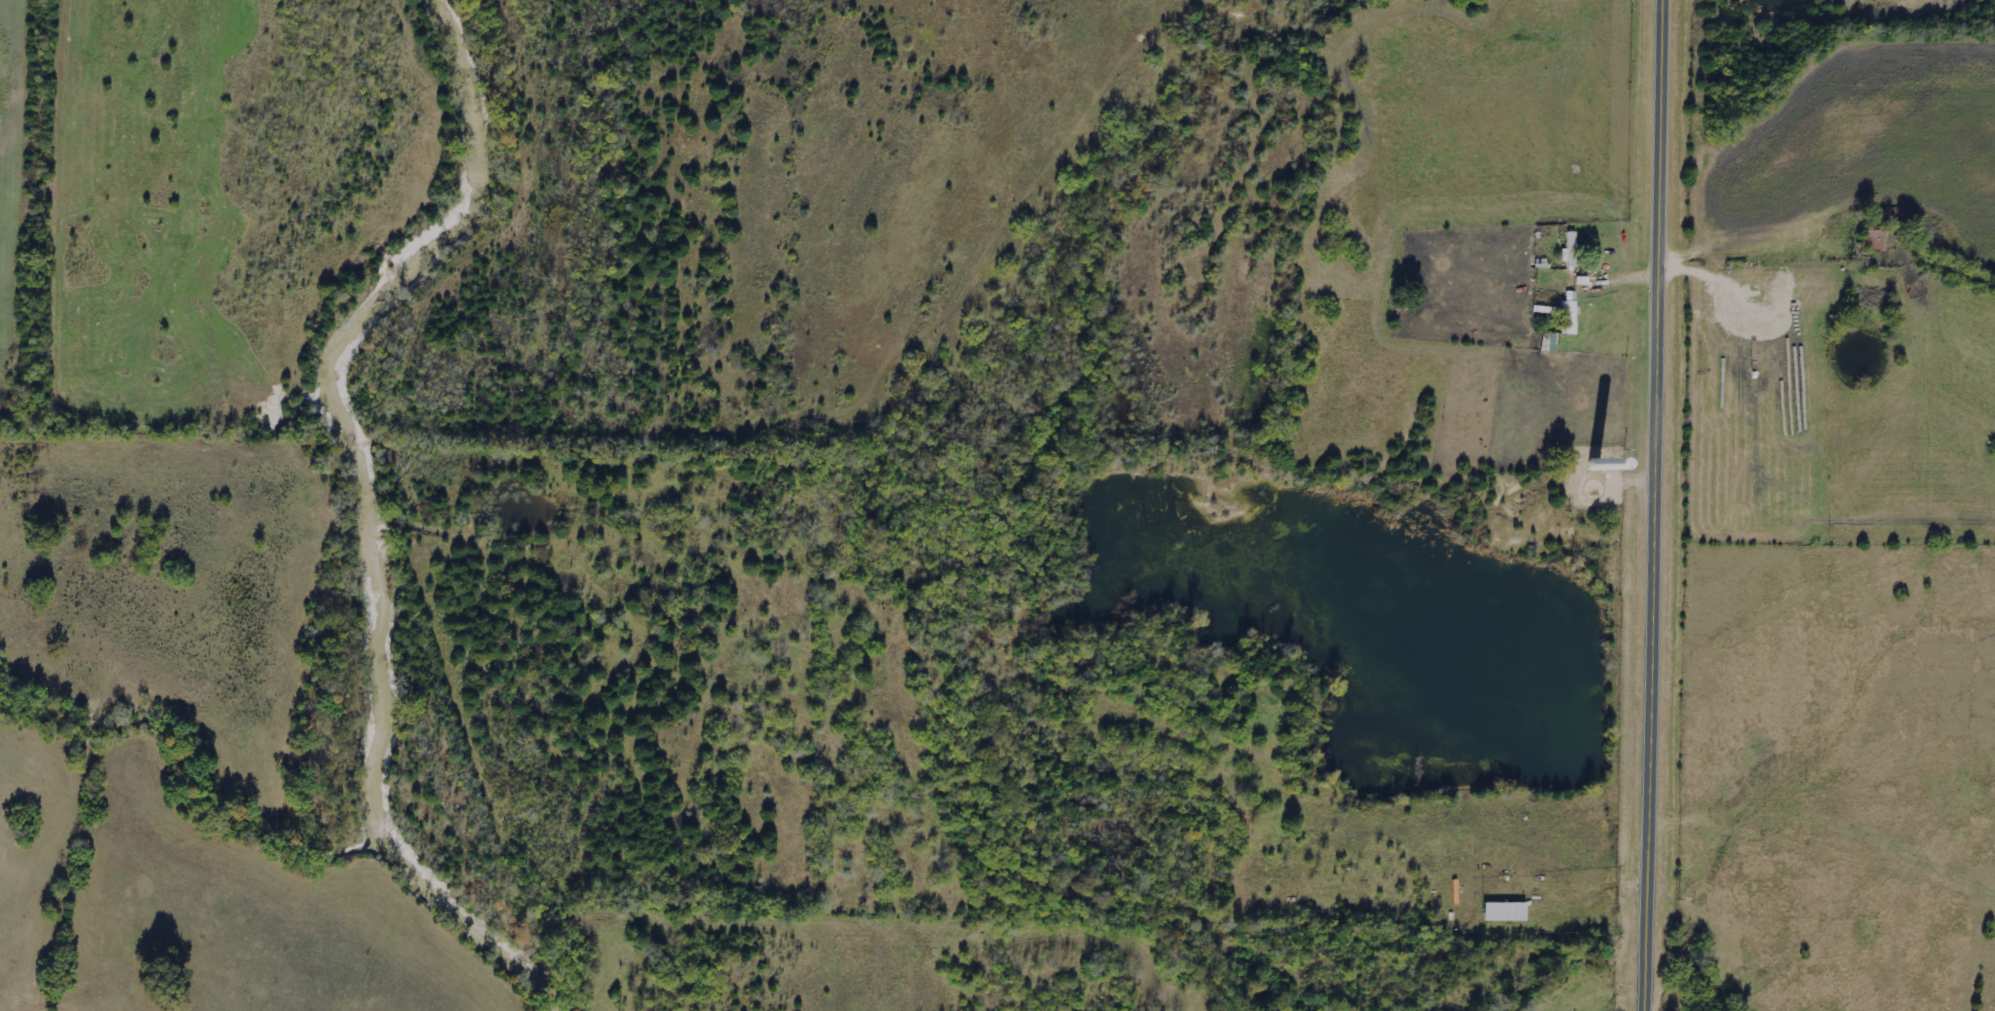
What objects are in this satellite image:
building: (1873, 241)
building: (1569, 251)
road: (1616, 278)
building: (1569, 315)
road: (1661, 505)
building: (1502, 913)

